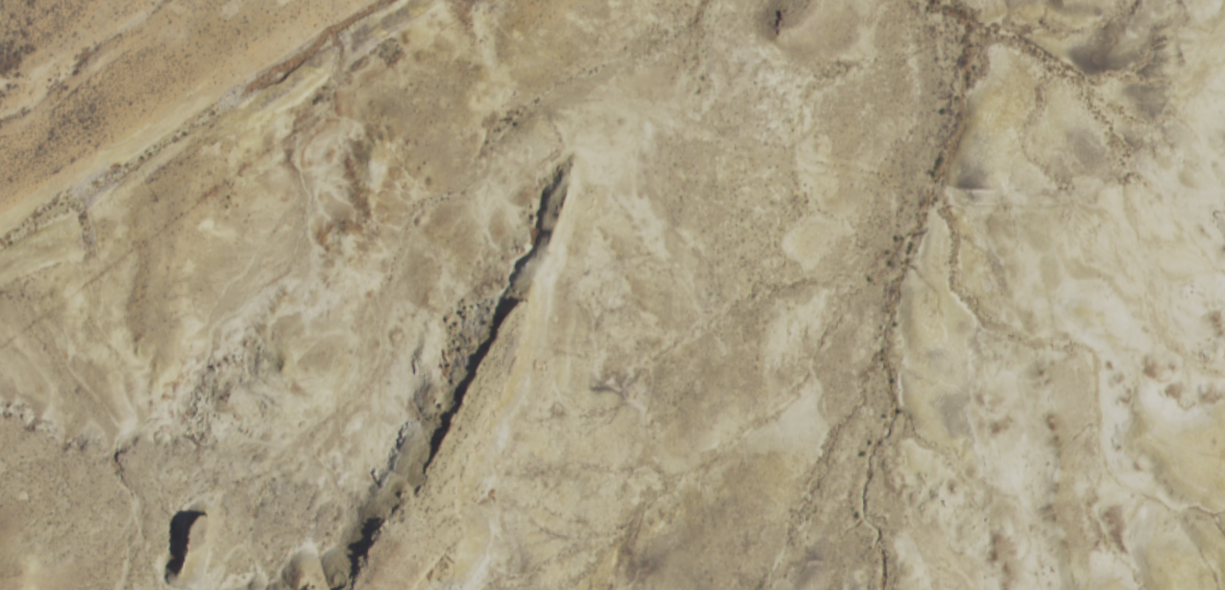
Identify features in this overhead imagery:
quarry: (73, 399)

